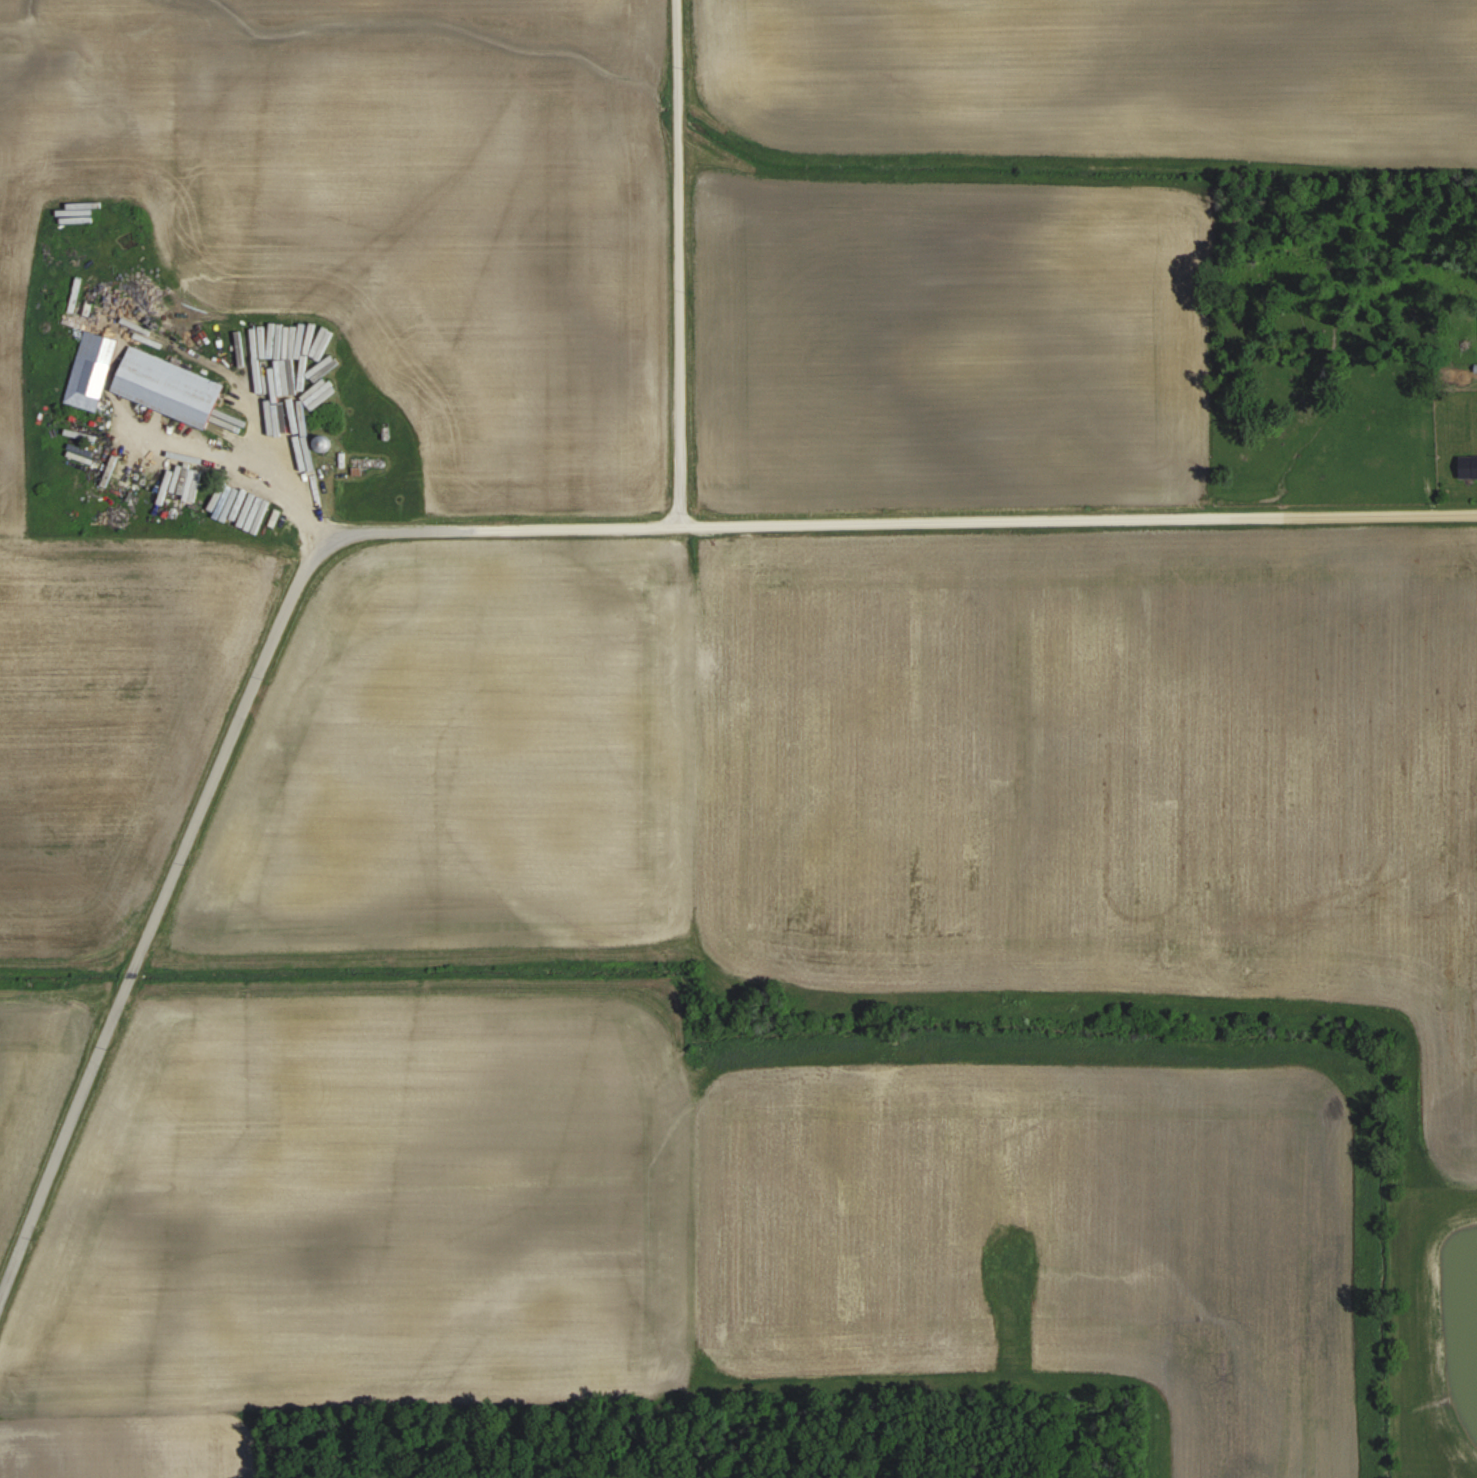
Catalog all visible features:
road: (676, 263)
building: (92, 369)
building: (169, 385)
building: (367, 462)
building: (1467, 464)
building: (102, 497)
road: (1079, 518)
road: (224, 759)

